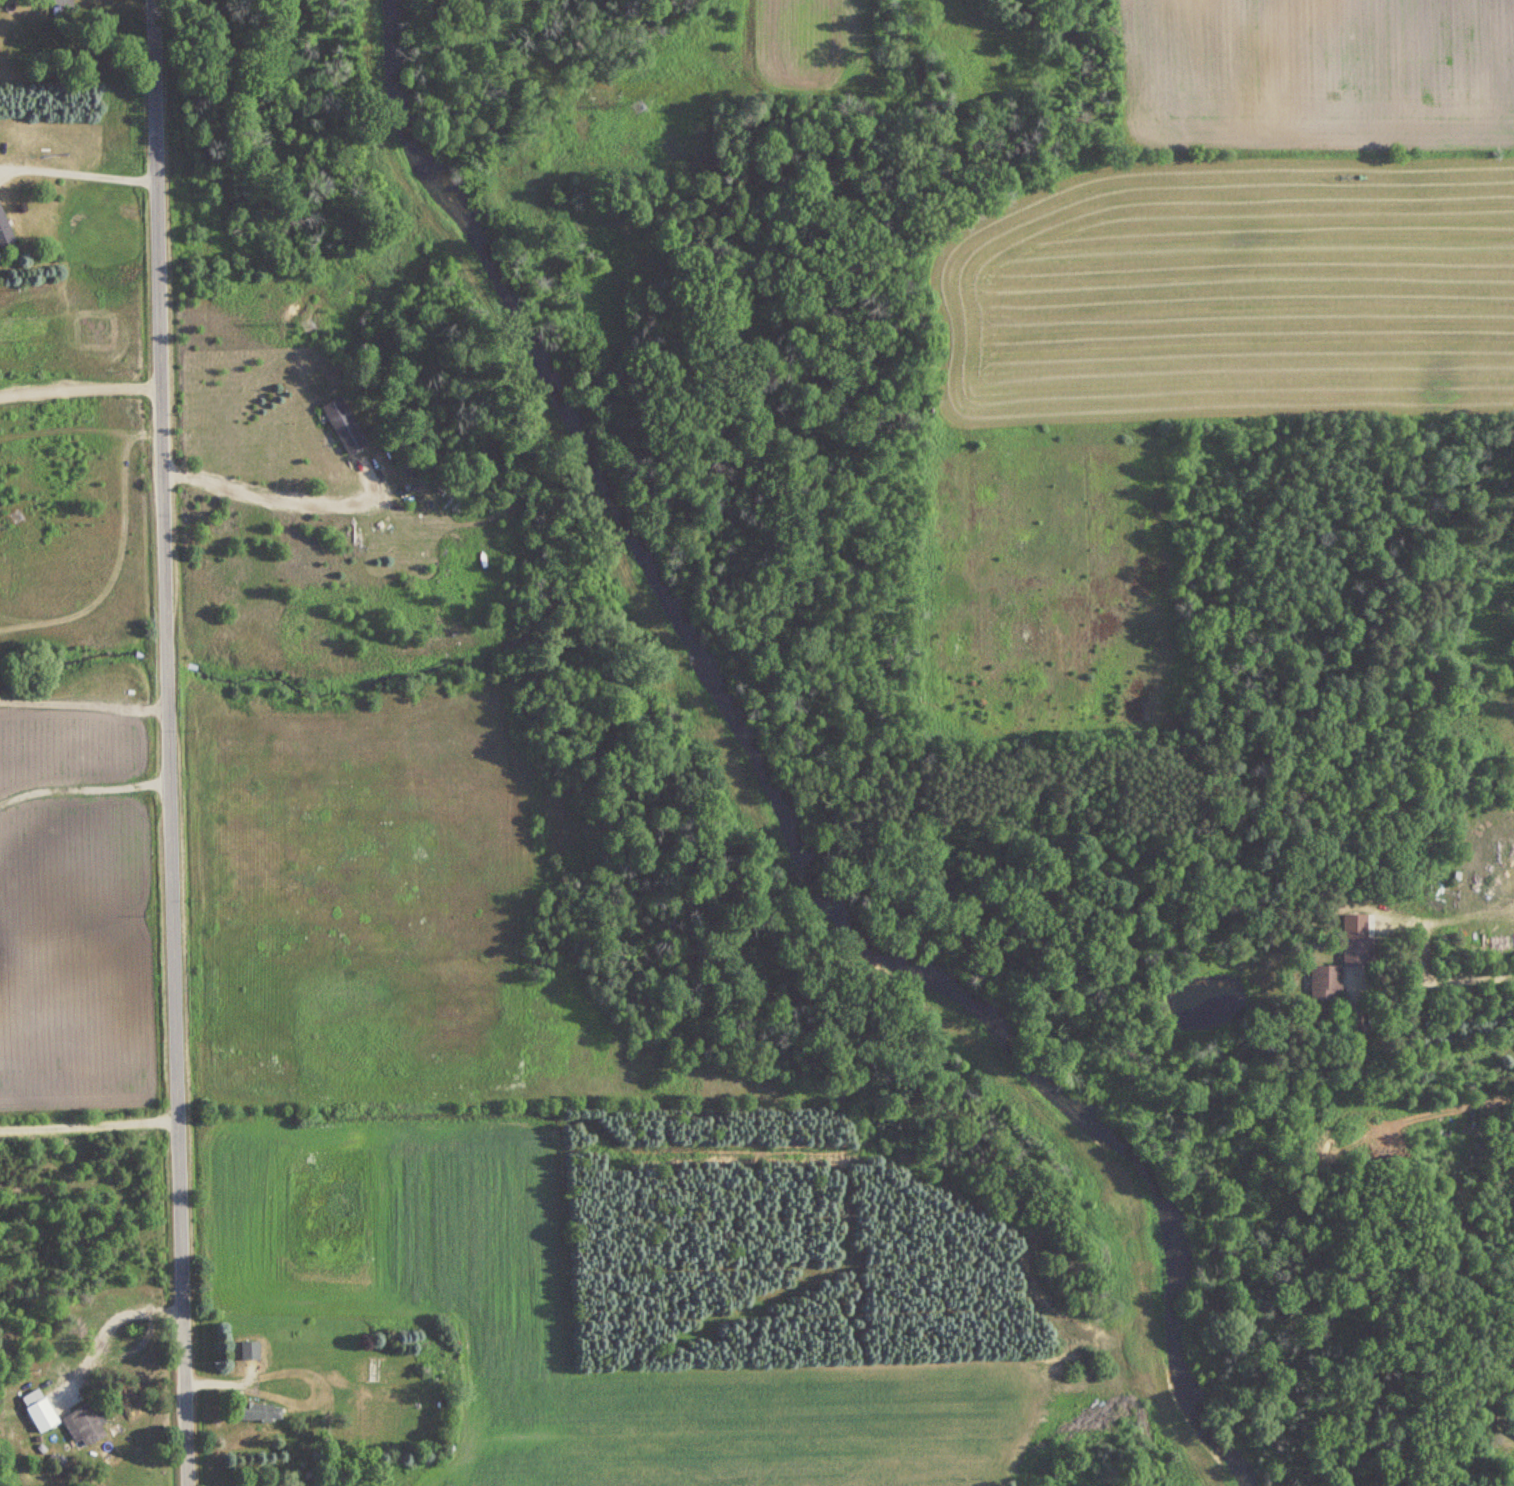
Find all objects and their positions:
building: (64, 8)
power tower: (640, 102)
road: (76, 171)
building: (6, 231)
power tower: (312, 323)
road: (78, 381)
building: (346, 426)
road: (271, 496)
power tower: (19, 516)
road: (81, 701)
road: (165, 743)
road: (82, 784)
building: (1358, 950)
building: (1326, 982)
road: (1474, 983)
road: (89, 1121)
road: (111, 1324)
building: (251, 1350)
building: (1513, 1361)
building: (365, 1369)
building: (41, 1410)
building: (262, 1412)
building: (363, 1424)
building: (85, 1425)

